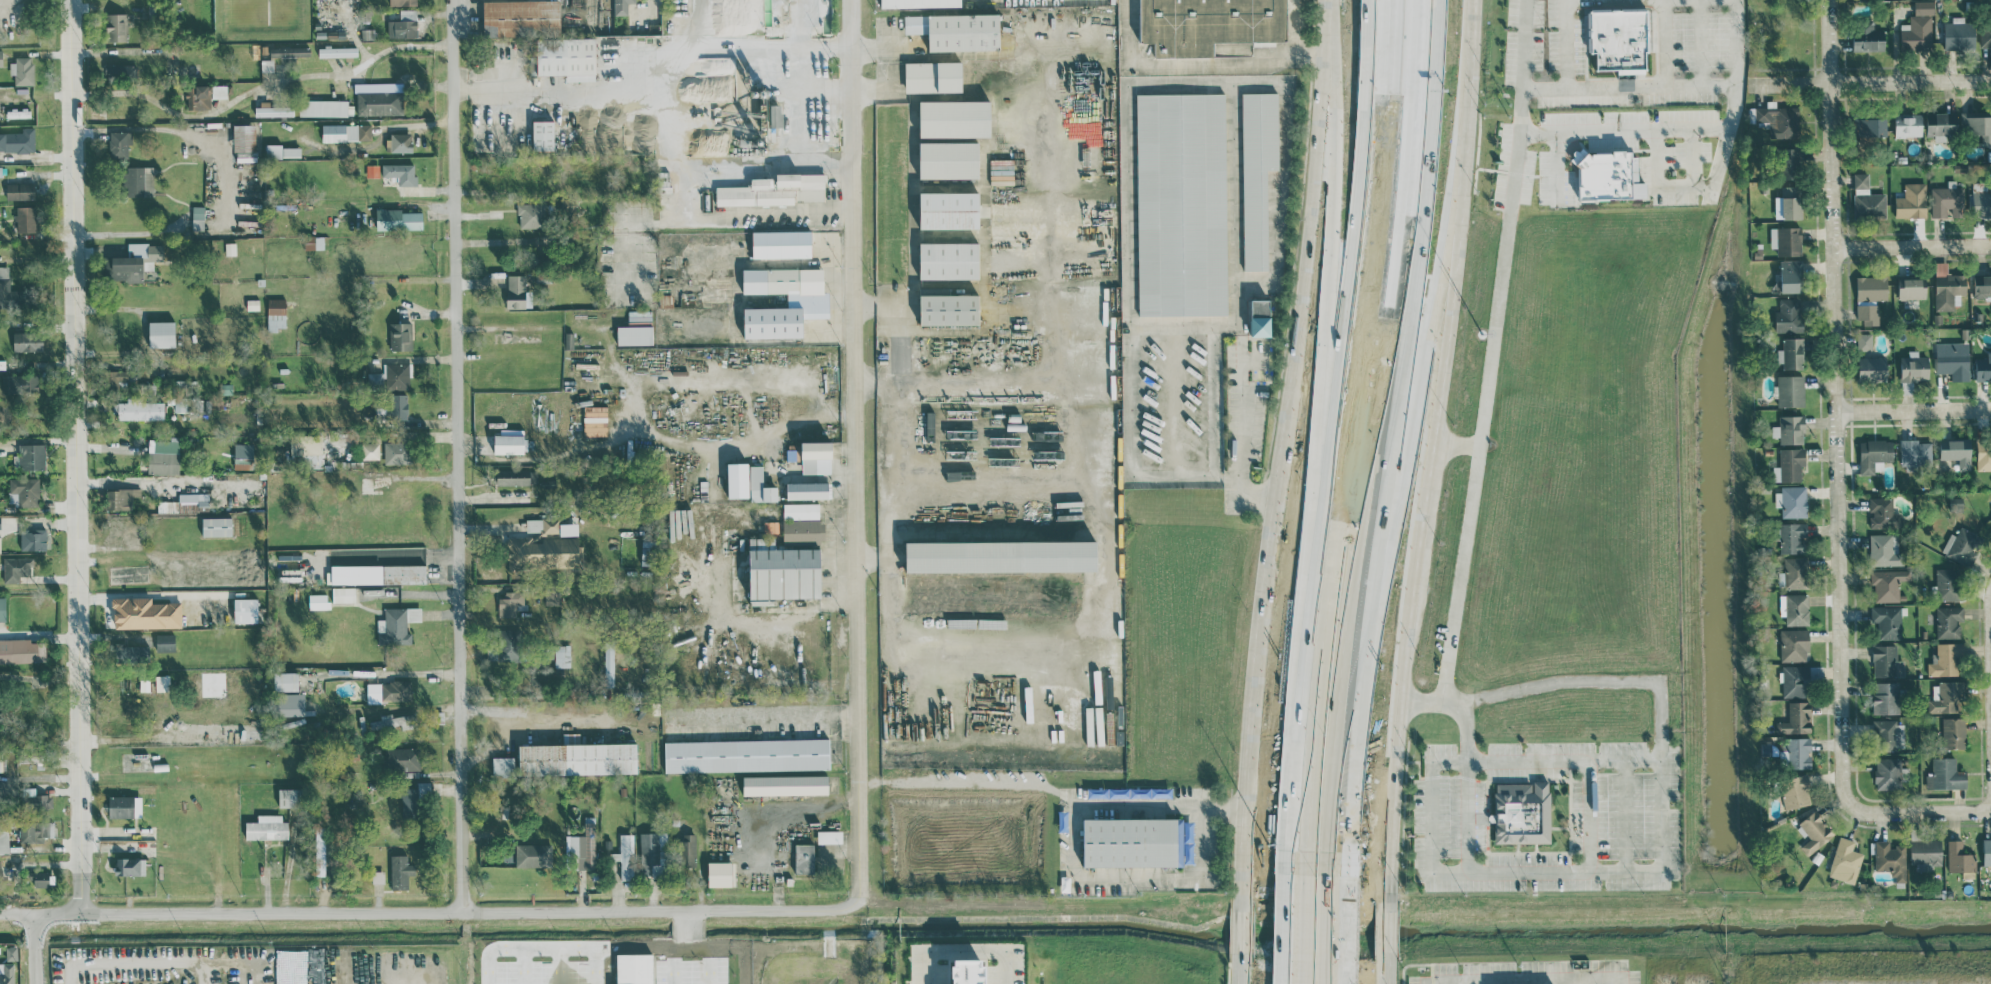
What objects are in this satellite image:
road: (1699, 0)
building: (403, 2)
road: (1566, 2)
road: (1616, 2)
building: (919, 3)
building: (620, 6)
building: (521, 18)
building: (403, 24)
building: (1209, 24)
building: (116, 27)
road: (698, 27)
building: (1918, 28)
road: (1298, 30)
building: (956, 31)
building: (1959, 33)
building: (1985, 35)
building: (1868, 38)
building: (1619, 40)
road: (1702, 43)
road: (1523, 44)
building: (289, 51)
building: (337, 52)
road: (722, 53)
building: (0, 58)
building: (566, 58)
building: (266, 65)
road: (1197, 67)
building: (21, 70)
building: (120, 72)
building: (933, 77)
road: (320, 78)
road: (1251, 80)
road: (1870, 82)
road: (132, 95)
building: (198, 97)
building: (379, 98)
building: (322, 108)
building: (274, 110)
building: (775, 115)
building: (954, 119)
building: (1942, 123)
building: (1908, 125)
building: (1977, 125)
building: (1870, 127)
road: (181, 131)
road: (1643, 131)
building: (346, 132)
road: (600, 134)
building: (543, 135)
building: (18, 141)
building: (244, 142)
building: (399, 142)
road: (1519, 142)
building: (118, 144)
road: (507, 148)
building: (283, 151)
road: (1688, 157)
building: (948, 160)
building: (1788, 163)
road: (1555, 166)
building: (1258, 172)
building: (400, 173)
road: (1128, 173)
building: (1609, 175)
building: (138, 180)
road: (1682, 186)
building: (774, 190)
building: (19, 191)
building: (1867, 199)
building: (1980, 199)
building: (1948, 200)
building: (1912, 201)
building: (1789, 203)
building: (1181, 204)
building: (949, 211)
building: (531, 215)
building: (197, 217)
building: (25, 219)
building: (397, 219)
road: (762, 220)
building: (1786, 241)
building: (313, 242)
building: (781, 244)
road: (1913, 247)
building: (135, 261)
building: (949, 261)
building: (1791, 276)
road: (1360, 285)
building: (1948, 286)
building: (1982, 286)
building: (5, 287)
building: (1912, 287)
building: (1871, 288)
building: (517, 291)
building: (807, 299)
building: (252, 304)
building: (1260, 308)
building: (949, 310)
building: (276, 313)
building: (1868, 314)
building: (1788, 315)
road: (1398, 320)
road: (1339, 328)
building: (161, 333)
building: (634, 334)
building: (400, 335)
building: (27, 341)
building: (1864, 341)
building: (1791, 353)
building: (1953, 362)
building: (1914, 366)
building: (1983, 367)
building: (1872, 368)
building: (117, 376)
building: (390, 376)
road: (983, 381)
building: (19, 382)
building: (1790, 390)
road: (1177, 397)
road: (1835, 402)
building: (398, 405)
building: (140, 409)
road: (1913, 410)
road: (1411, 415)
building: (595, 420)
road: (986, 428)
building: (1790, 428)
road: (1242, 432)
building: (508, 443)
building: (306, 447)
building: (370, 450)
road: (860, 450)
building: (1915, 450)
building: (1957, 451)
building: (394, 452)
building: (1875, 454)
road: (459, 455)
building: (1984, 455)
building: (29, 456)
road: (73, 456)
building: (163, 456)
building: (816, 456)
building: (243, 460)
building: (1789, 464)
road: (990, 475)
building: (516, 476)
building: (760, 485)
building: (807, 489)
building: (25, 490)
road: (1281, 491)
road: (1426, 491)
building: (120, 497)
building: (1791, 500)
building: (184, 502)
building: (800, 510)
building: (1883, 512)
building: (549, 525)
building: (216, 526)
building: (803, 530)
building: (1792, 537)
building: (33, 538)
building: (0, 545)
building: (1962, 545)
building: (1883, 550)
building: (544, 551)
building: (648, 551)
building: (1000, 555)
road: (875, 560)
building: (17, 569)
building: (289, 569)
building: (782, 570)
building: (1795, 572)
building: (391, 573)
road: (1465, 574)
building: (1888, 583)
building: (1948, 583)
building: (343, 594)
building: (318, 600)
building: (508, 603)
building: (2, 608)
building: (1794, 608)
building: (245, 609)
road: (1990, 611)
building: (144, 612)
building: (1887, 620)
building: (1948, 621)
building: (396, 625)
building: (165, 642)
building: (1794, 644)
building: (22, 650)
building: (503, 650)
road: (983, 652)
building: (562, 655)
road: (1068, 657)
building: (1884, 659)
building: (1945, 659)
building: (608, 664)
building: (285, 680)
building: (1795, 680)
road: (1653, 681)
building: (162, 682)
building: (387, 691)
building: (1946, 696)
building: (1886, 697)
building: (1796, 717)
road: (660, 720)
building: (392, 721)
building: (1056, 725)
road: (1311, 726)
building: (1954, 732)
building: (1885, 733)
road: (1465, 735)
building: (1097, 737)
building: (1797, 752)
building: (746, 754)
building: (400, 758)
building: (577, 758)
road: (1331, 758)
building: (0, 763)
building: (503, 765)
building: (1888, 773)
building: (1945, 774)
building: (785, 784)
road: (1054, 789)
building: (1795, 791)
building: (1137, 792)
building: (34, 796)
building: (287, 797)
building: (124, 806)
building: (1522, 812)
road: (1918, 813)
road: (1470, 816)
road: (1626, 817)
building: (266, 827)
building: (36, 829)
building: (1815, 831)
building: (829, 836)
building: (1138, 841)
road: (1665, 846)
building: (582, 847)
building: (687, 849)
building: (1987, 851)
building: (1926, 853)
building: (530, 854)
building: (649, 854)
building: (624, 855)
building: (804, 858)
building: (1890, 859)
building: (1960, 859)
building: (1845, 860)
building: (129, 866)
building: (6, 869)
building: (400, 871)
building: (719, 873)
road: (1499, 873)
building: (40, 878)
road: (429, 912)
road: (1319, 932)
road: (1298, 933)
road: (35, 948)
road: (963, 955)
road: (136, 963)
road: (255, 963)
building: (632, 968)
building: (964, 972)
building: (6, 973)
road: (1528, 976)

